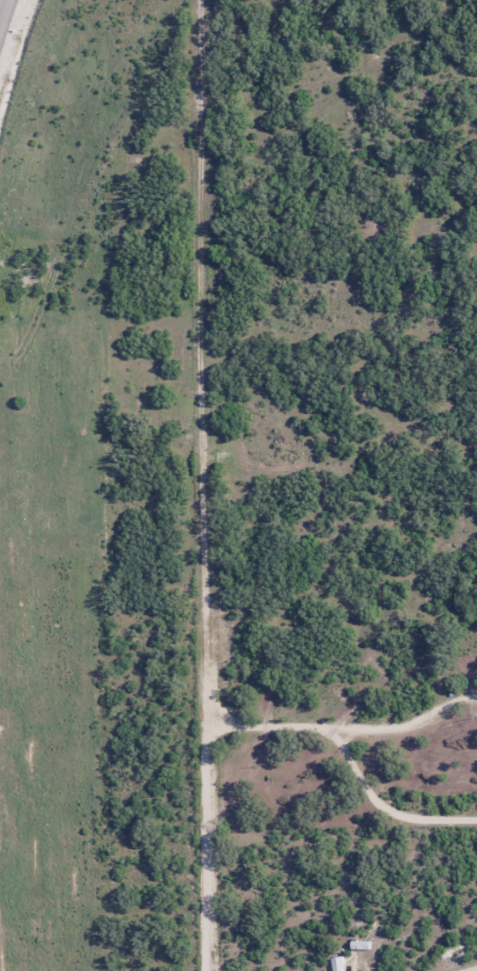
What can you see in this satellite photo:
road: (3, 11)
road: (201, 485)
road: (266, 723)
road: (405, 723)
road: (383, 805)
road: (470, 969)

